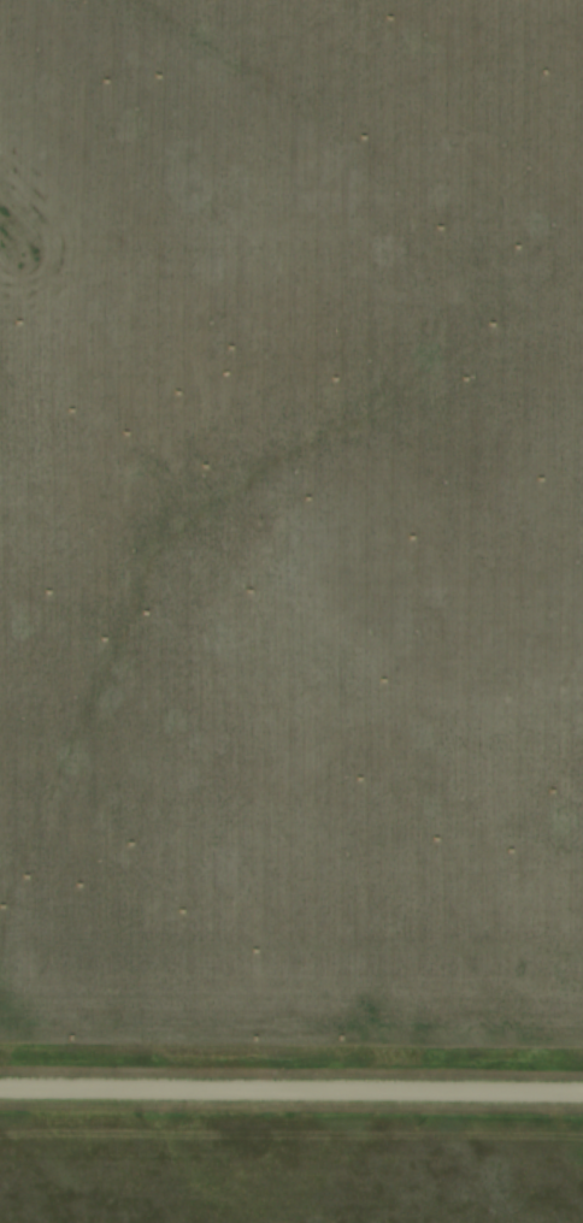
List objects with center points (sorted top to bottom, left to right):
road: (291, 1087)

